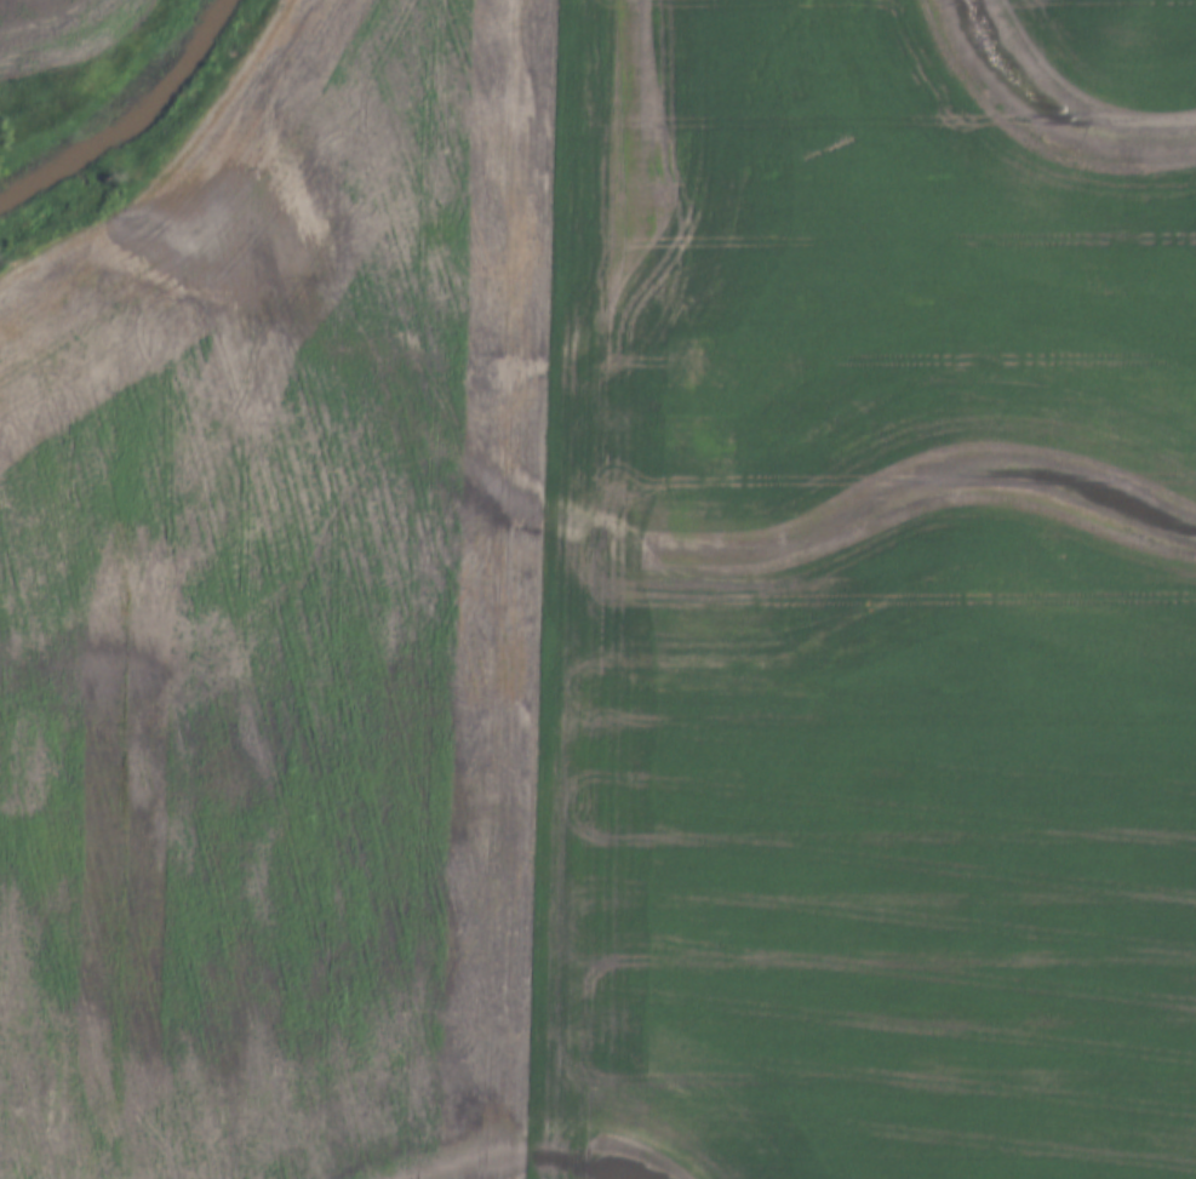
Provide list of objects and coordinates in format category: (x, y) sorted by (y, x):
crop: (61, 30)
crop: (614, 606)

